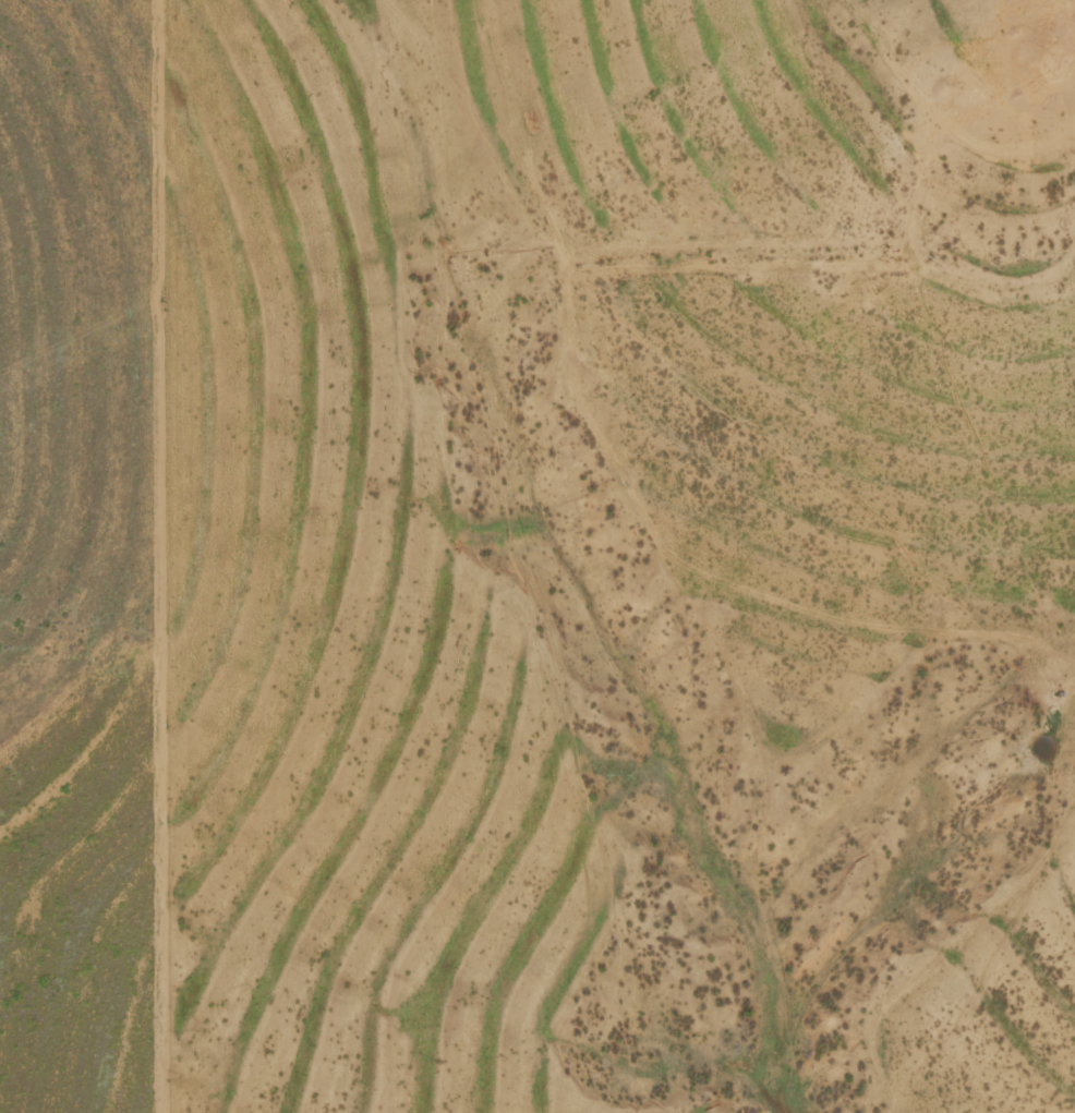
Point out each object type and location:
power tower: (533, 121)
power tower: (165, 302)

